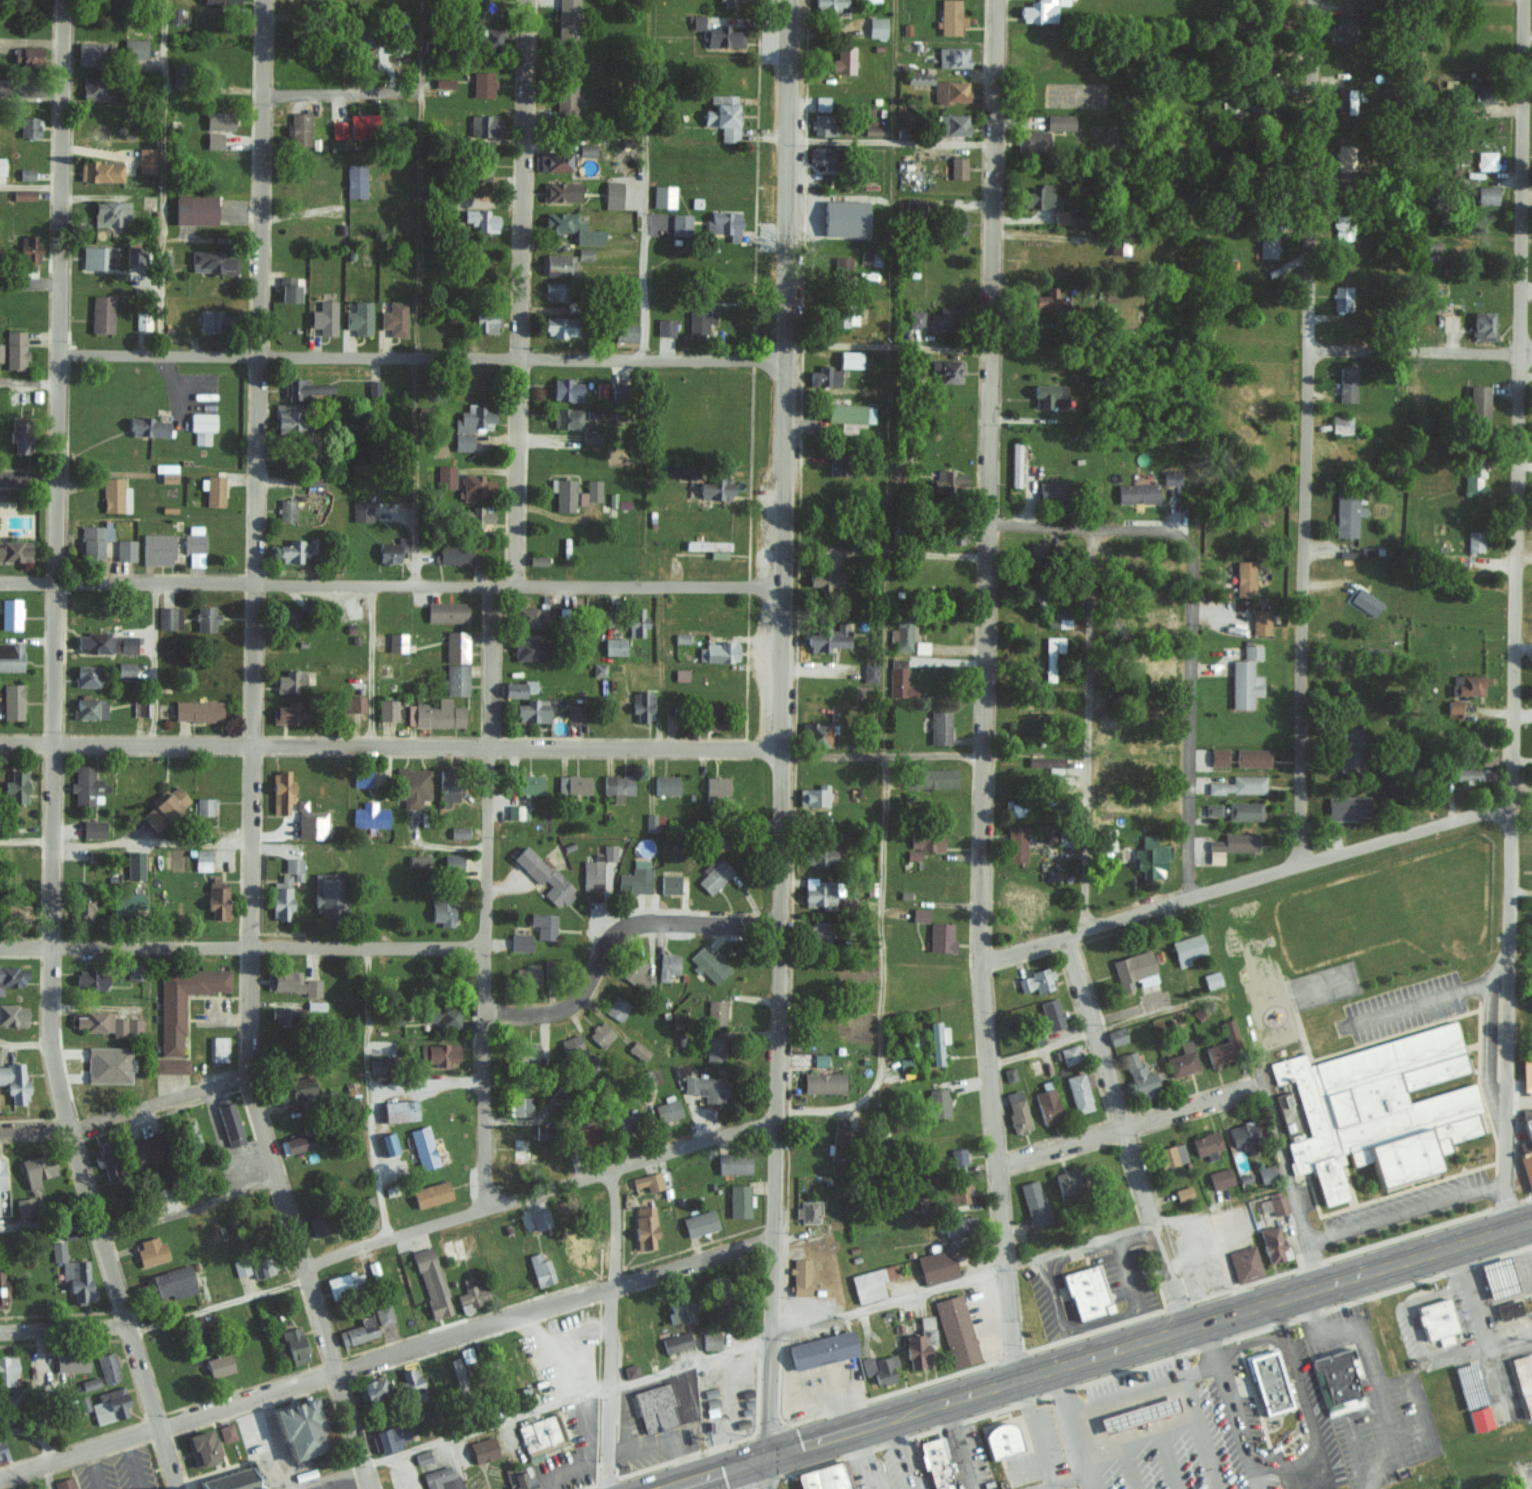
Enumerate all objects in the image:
building: (870, 0)
building: (218, 1)
building: (732, 2)
building: (830, 4)
building: (1041, 10)
building: (174, 14)
building: (950, 17)
building: (568, 19)
building: (877, 26)
building: (1347, 28)
building: (365, 36)
building: (723, 37)
building: (488, 38)
road: (1526, 40)
building: (134, 47)
building: (87, 53)
building: (26, 55)
building: (953, 56)
building: (843, 59)
building: (919, 78)
building: (443, 82)
building: (482, 84)
building: (94, 88)
road: (228, 89)
building: (950, 91)
building: (1486, 93)
building: (566, 96)
building: (1346, 100)
building: (821, 103)
building: (722, 115)
building: (219, 120)
building: (1060, 121)
building: (953, 123)
building: (824, 124)
building: (361, 125)
building: (480, 125)
building: (28, 127)
building: (300, 129)
building: (338, 129)
building: (874, 130)
building: (213, 140)
building: (1032, 141)
road: (893, 143)
building: (587, 149)
building: (821, 156)
building: (1344, 157)
building: (146, 160)
building: (627, 160)
building: (1486, 160)
building: (555, 161)
building: (2, 165)
building: (958, 167)
building: (100, 171)
building: (26, 173)
building: (484, 174)
road: (163, 176)
building: (355, 180)
road: (30, 190)
building: (560, 191)
building: (23, 194)
building: (613, 194)
building: (1487, 195)
building: (663, 196)
building: (1041, 197)
building: (195, 209)
building: (110, 212)
building: (1060, 216)
building: (845, 217)
building: (481, 219)
building: (681, 224)
building: (724, 224)
building: (572, 227)
building: (1343, 227)
road: (644, 244)
building: (1267, 244)
building: (28, 248)
building: (585, 253)
building: (98, 257)
building: (872, 258)
building: (212, 262)
building: (557, 264)
road: (29, 284)
building: (288, 288)
road: (417, 291)
building: (556, 291)
road: (519, 292)
building: (1342, 297)
building: (1046, 300)
building: (101, 314)
building: (844, 316)
building: (324, 317)
building: (359, 317)
building: (394, 317)
building: (699, 319)
building: (915, 319)
building: (208, 320)
building: (142, 321)
building: (485, 321)
building: (939, 322)
building: (1483, 325)
building: (562, 326)
building: (665, 327)
building: (626, 332)
road: (889, 347)
building: (15, 349)
road: (1419, 350)
building: (0, 351)
road: (423, 356)
building: (850, 359)
building: (946, 371)
building: (824, 377)
building: (472, 380)
building: (1347, 383)
road: (28, 385)
building: (373, 387)
building: (306, 390)
building: (566, 390)
building: (601, 391)
building: (1050, 395)
building: (1479, 400)
building: (850, 413)
building: (568, 418)
building: (290, 419)
building: (1340, 424)
building: (470, 425)
building: (201, 426)
building: (148, 427)
road: (1304, 431)
building: (18, 435)
building: (591, 437)
building: (835, 462)
building: (1015, 464)
building: (689, 470)
building: (167, 472)
building: (1474, 475)
building: (445, 476)
building: (1171, 477)
building: (947, 480)
road: (28, 481)
building: (314, 482)
building: (474, 486)
building: (716, 489)
building: (1051, 489)
building: (214, 491)
building: (590, 492)
building: (1137, 492)
building: (112, 494)
building: (286, 509)
building: (362, 510)
building: (1347, 515)
building: (476, 516)
road: (1086, 530)
building: (91, 541)
building: (1475, 541)
building: (194, 544)
building: (710, 547)
building: (157, 549)
building: (125, 550)
building: (296, 550)
building: (392, 550)
building: (1038, 550)
building: (14, 551)
building: (456, 555)
road: (885, 555)
building: (537, 560)
building: (1245, 578)
building: (825, 580)
road: (393, 584)
building: (1366, 601)
building: (447, 612)
building: (10, 614)
building: (287, 615)
road: (1516, 615)
building: (531, 617)
building: (1062, 617)
building: (166, 618)
building: (205, 618)
road: (785, 620)
building: (636, 622)
building: (1260, 622)
building: (903, 634)
building: (681, 637)
building: (827, 638)
building: (93, 642)
building: (397, 642)
building: (124, 644)
building: (456, 646)
building: (615, 646)
building: (921, 647)
building: (529, 650)
building: (718, 652)
building: (1251, 652)
building: (1052, 655)
building: (11, 657)
road: (157, 662)
road: (370, 664)
building: (1149, 664)
building: (126, 669)
building: (598, 670)
building: (869, 672)
building: (89, 675)
building: (456, 679)
building: (289, 681)
building: (900, 684)
building: (1244, 684)
building: (1468, 685)
building: (518, 688)
road: (983, 689)
building: (12, 701)
building: (352, 704)
building: (642, 706)
building: (1454, 706)
building: (139, 707)
building: (89, 708)
building: (388, 709)
building: (197, 710)
building: (532, 710)
building: (289, 713)
building: (435, 714)
building: (576, 714)
building: (711, 716)
road: (1192, 718)
building: (1112, 722)
building: (939, 728)
road: (1089, 730)
building: (816, 734)
road: (391, 745)
building: (1475, 750)
building: (1352, 752)
road: (51, 754)
road: (250, 754)
building: (1219, 757)
building: (1253, 757)
road: (882, 758)
building: (1045, 762)
road: (886, 771)
building: (1470, 774)
building: (362, 778)
building: (935, 778)
building: (531, 784)
building: (573, 784)
building: (666, 784)
building: (447, 785)
building: (1240, 785)
building: (86, 786)
building: (413, 786)
building: (618, 786)
building: (717, 786)
building: (16, 787)
building: (282, 792)
building: (814, 796)
building: (205, 806)
building: (1124, 806)
building: (165, 807)
building: (1349, 807)
building: (1015, 809)
building: (1213, 809)
building: (1245, 811)
building: (518, 812)
building: (370, 816)
building: (654, 821)
building: (93, 829)
building: (458, 832)
building: (1108, 839)
building: (1016, 844)
road: (243, 845)
building: (924, 845)
building: (1231, 845)
building: (609, 852)
building: (824, 855)
building: (93, 856)
building: (1151, 858)
building: (203, 859)
building: (419, 860)
building: (452, 862)
building: (294, 867)
building: (593, 873)
building: (543, 875)
building: (714, 875)
building: (636, 878)
road: (1245, 881)
building: (670, 884)
building: (327, 893)
building: (819, 893)
road: (487, 895)
building: (281, 897)
building: (217, 898)
building: (127, 902)
building: (83, 904)
building: (442, 910)
building: (15, 913)
building: (920, 915)
building: (544, 925)
road: (605, 926)
building: (819, 932)
building: (941, 937)
building: (521, 941)
road: (243, 946)
building: (1188, 948)
building: (709, 964)
building: (668, 965)
building: (1134, 969)
building: (134, 970)
building: (12, 975)
building: (529, 976)
building: (90, 979)
building: (283, 979)
building: (1212, 979)
building: (1037, 980)
building: (312, 986)
road: (1420, 1002)
building: (617, 1007)
building: (716, 1011)
building: (12, 1013)
building: (279, 1013)
building: (1051, 1013)
building: (442, 1016)
building: (391, 1017)
building: (171, 1022)
building: (109, 1023)
road: (1103, 1029)
building: (601, 1033)
building: (944, 1033)
building: (1116, 1035)
road: (1485, 1040)
building: (935, 1042)
road: (25, 1044)
building: (573, 1047)
building: (1224, 1047)
building: (715, 1048)
building: (638, 1050)
building: (528, 1051)
building: (438, 1053)
building: (1069, 1054)
building: (1182, 1059)
building: (906, 1063)
building: (108, 1064)
building: (375, 1064)
building: (171, 1065)
building: (1010, 1073)
building: (1140, 1075)
building: (1527, 1075)
building: (14, 1081)
building: (824, 1082)
road: (425, 1085)
building: (706, 1087)
building: (295, 1088)
road: (365, 1092)
building: (1078, 1092)
road: (1224, 1094)
building: (938, 1102)
building: (1047, 1103)
building: (521, 1105)
building: (1378, 1107)
building: (400, 1110)
building: (1017, 1110)
road: (123, 1111)
building: (229, 1122)
building: (625, 1122)
road: (1125, 1130)
building: (1243, 1132)
building: (1293, 1132)
building: (585, 1134)
building: (189, 1135)
building: (838, 1139)
building: (297, 1142)
building: (1206, 1142)
building: (387, 1143)
building: (423, 1146)
building: (145, 1150)
building: (1528, 1150)
building: (1172, 1155)
building: (957, 1156)
building: (106, 1158)
building: (733, 1163)
building: (36, 1168)
building: (1, 1173)
building: (1266, 1173)
building: (1222, 1177)
building: (1068, 1180)
building: (648, 1181)
road: (537, 1190)
building: (1183, 1192)
building: (431, 1193)
building: (956, 1193)
building: (739, 1200)
building: (1033, 1202)
building: (1274, 1202)
building: (24, 1205)
road: (186, 1206)
building: (367, 1206)
building: (808, 1211)
road: (1405, 1212)
building: (541, 1218)
road: (46, 1220)
building: (699, 1222)
building: (319, 1223)
building: (958, 1225)
road: (1529, 1225)
building: (645, 1227)
building: (1273, 1243)
building: (150, 1250)
building: (578, 1252)
building: (1244, 1262)
building: (264, 1263)
building: (937, 1265)
building: (240, 1266)
building: (540, 1268)
building: (74, 1273)
building: (800, 1276)
building: (1493, 1277)
building: (341, 1281)
building: (169, 1282)
building: (431, 1282)
building: (872, 1282)
building: (2, 1288)
building: (1087, 1291)
building: (472, 1295)
building: (679, 1305)
road: (218, 1306)
building: (1508, 1309)
building: (383, 1314)
building: (1431, 1318)
road: (62, 1324)
road: (613, 1328)
building: (956, 1329)
building: (358, 1330)
road: (1145, 1336)
building: (711, 1340)
road: (1256, 1340)
building: (676, 1341)
building: (920, 1343)
building: (295, 1345)
road: (773, 1349)
building: (822, 1349)
road: (724, 1354)
road: (385, 1355)
building: (71, 1361)
road: (1208, 1363)
building: (218, 1364)
building: (108, 1366)
building: (879, 1367)
building: (7, 1369)
building: (630, 1370)
building: (704, 1370)
building: (458, 1372)
building: (1336, 1377)
road: (42, 1378)
building: (1524, 1379)
road: (1377, 1380)
building: (1274, 1381)
building: (90, 1383)
building: (412, 1384)
building: (1470, 1384)
building: (705, 1386)
building: (372, 1389)
road: (1148, 1390)
road: (1242, 1401)
building: (109, 1404)
building: (655, 1407)
road: (1309, 1409)
building: (1139, 1413)
building: (1480, 1418)
building: (300, 1426)
road: (1069, 1427)
road: (1031, 1429)
road: (37, 1431)
building: (226, 1432)
building: (390, 1438)
road: (1145, 1438)
building: (1003, 1439)
road: (966, 1443)
building: (202, 1447)
building: (483, 1449)
building: (2, 1450)
road: (1360, 1450)
road: (906, 1452)
building: (422, 1456)
traffic signals: (761, 1457)
road: (866, 1458)
building: (935, 1462)
road: (1166, 1462)
road: (753, 1472)
road: (1131, 1472)
road: (711, 1473)
building: (436, 1477)
building: (824, 1477)
building: (520, 1478)
building: (233, 1479)
building: (64, 1483)
road: (1050, 1485)

